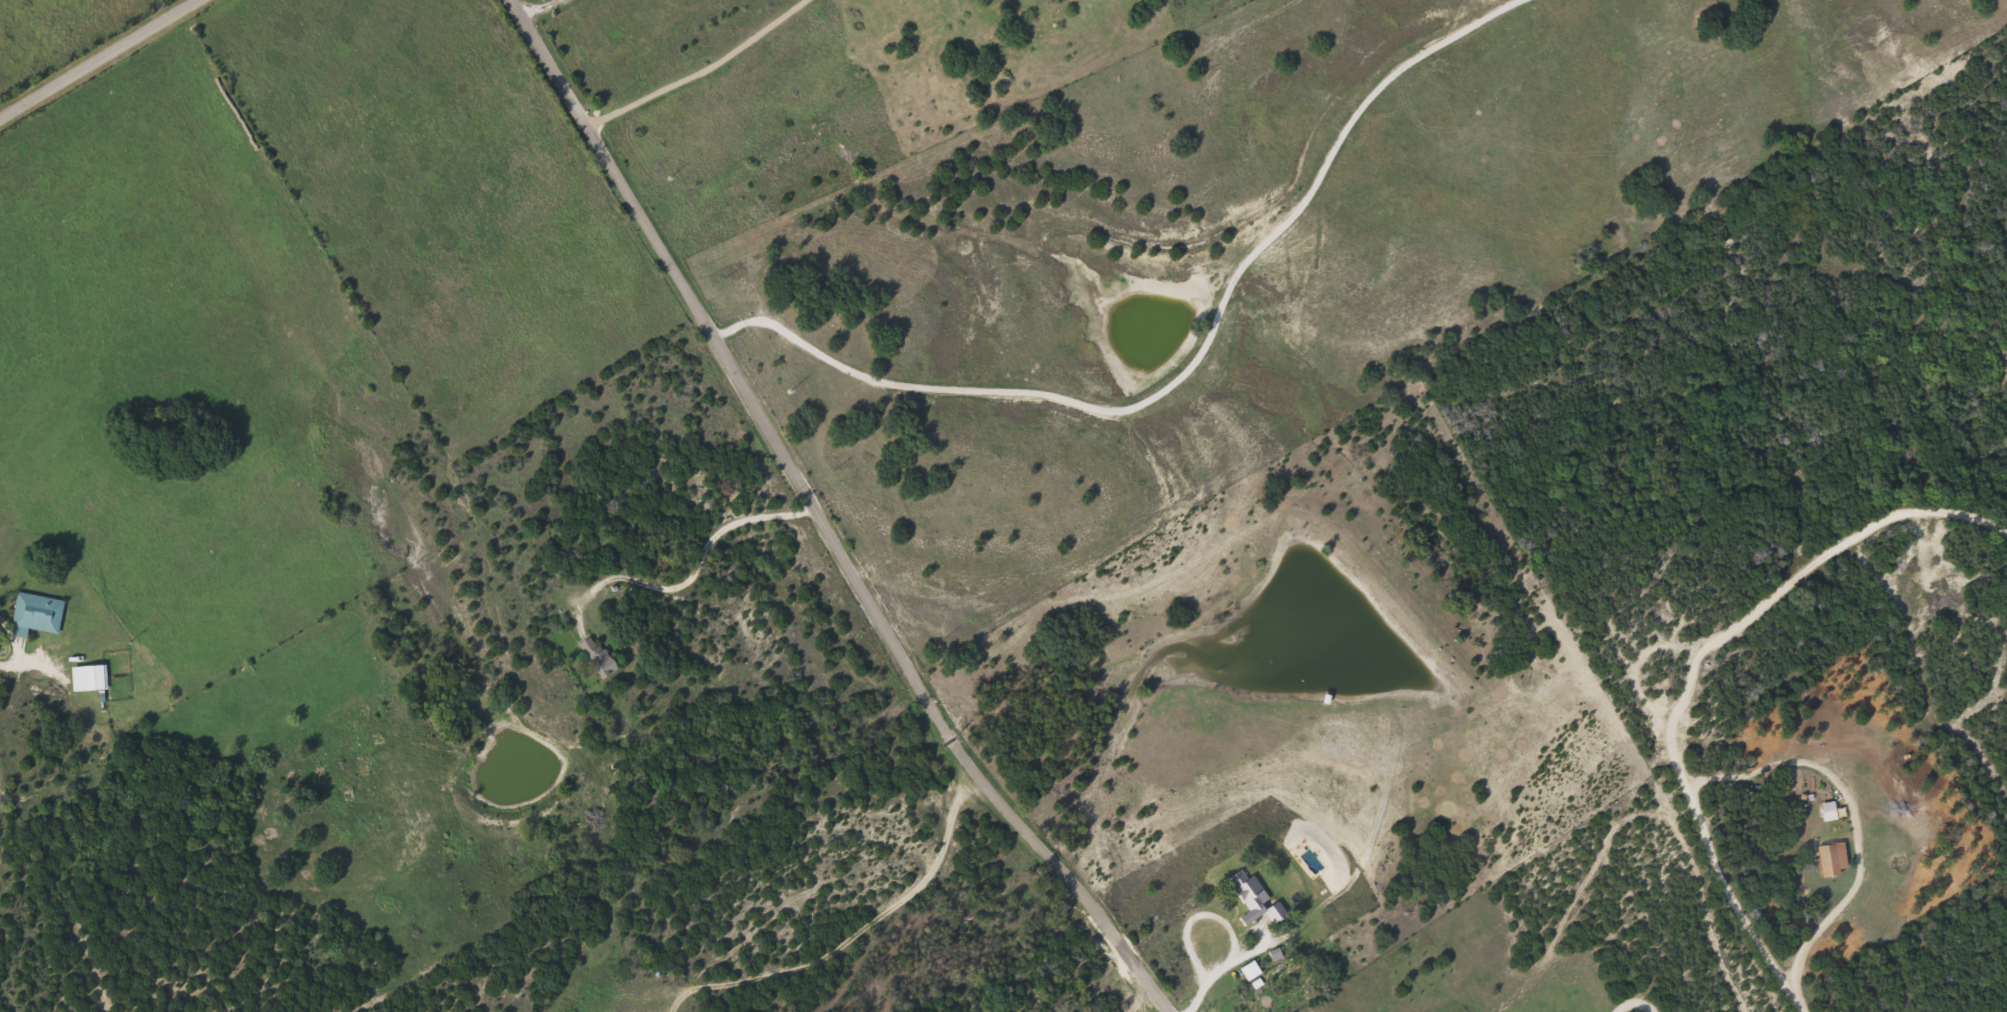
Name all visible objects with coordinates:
road: (101, 60)
road: (1189, 367)
road: (819, 519)
road: (698, 565)
road: (1801, 579)
building: (38, 615)
building: (599, 657)
road: (1926, 669)
building: (96, 678)
building: (1829, 811)
road: (1853, 815)
building: (1831, 861)
road: (1728, 885)
building: (1257, 897)
building: (1252, 971)

